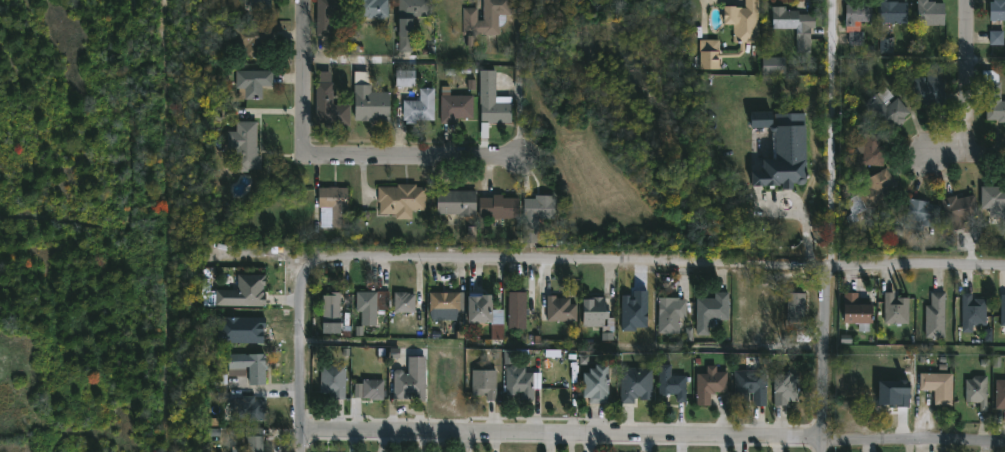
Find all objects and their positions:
building: (247, 0)
building: (374, 8)
building: (890, 12)
building: (927, 13)
building: (331, 14)
building: (488, 17)
building: (854, 19)
building: (412, 20)
building: (995, 21)
building: (795, 26)
building: (748, 31)
building: (258, 39)
building: (221, 47)
road: (987, 59)
road: (409, 60)
building: (408, 77)
road: (968, 77)
building: (255, 82)
building: (927, 89)
building: (992, 97)
building: (372, 101)
building: (495, 101)
building: (331, 104)
building: (457, 106)
building: (422, 107)
building: (889, 108)
railway: (169, 127)
building: (246, 146)
building: (875, 149)
road: (343, 151)
road: (965, 154)
building: (782, 171)
building: (874, 194)
building: (994, 198)
building: (403, 200)
building: (459, 203)
building: (335, 207)
building: (501, 207)
building: (961, 209)
building: (538, 214)
building: (923, 214)
road: (833, 225)
road: (501, 260)
building: (243, 292)
building: (371, 301)
building: (404, 302)
building: (465, 307)
building: (795, 307)
building: (330, 308)
building: (671, 308)
building: (560, 309)
building: (894, 309)
building: (516, 310)
building: (1002, 310)
building: (710, 311)
building: (856, 312)
building: (972, 312)
building: (596, 316)
building: (935, 316)
railway: (171, 354)
road: (305, 354)
road: (54, 356)
building: (235, 370)
building: (332, 380)
building: (409, 380)
building: (520, 381)
building: (671, 382)
building: (484, 383)
building: (594, 384)
building: (751, 384)
building: (709, 385)
building: (938, 385)
building: (368, 388)
building: (785, 388)
building: (977, 390)
building: (999, 393)
road: (654, 435)
building: (251, 440)

